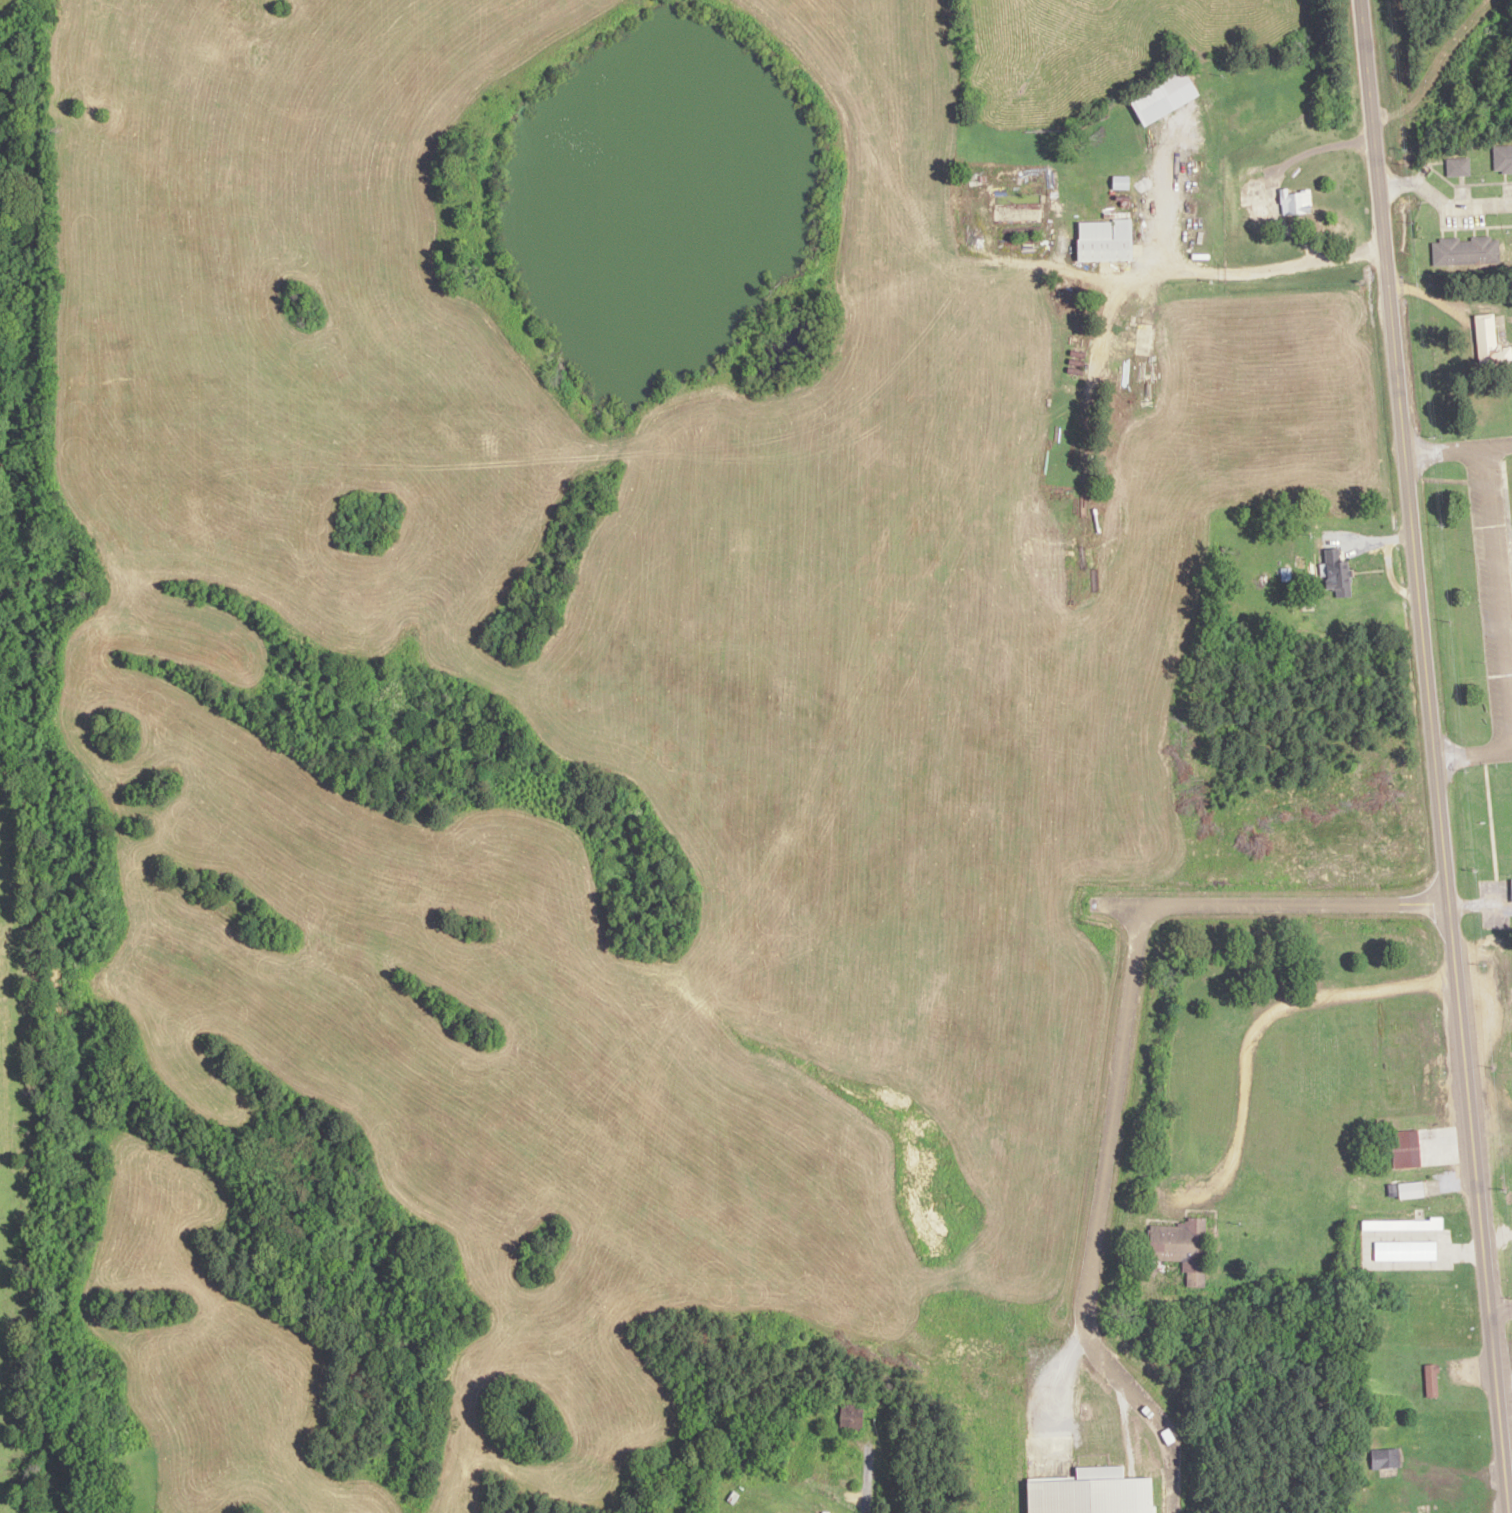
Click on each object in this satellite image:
building: (1163, 97)
road: (1315, 149)
building: (1502, 158)
building: (1457, 166)
building: (1295, 202)
road: (1442, 203)
building: (1017, 212)
building: (1104, 240)
building: (1465, 251)
road: (1134, 282)
building: (1486, 337)
road: (1457, 447)
building: (1338, 577)
road: (1499, 596)
road: (1472, 752)
road: (1432, 756)
building: (1511, 889)
road: (103, 987)
road: (1262, 1020)
road: (1118, 1075)
building: (1405, 1148)
building: (1410, 1189)
building: (1182, 1248)
road: (1500, 1310)
building: (1431, 1380)
building: (850, 1417)
building: (1384, 1458)
building: (1092, 1493)
building: (824, 1512)

